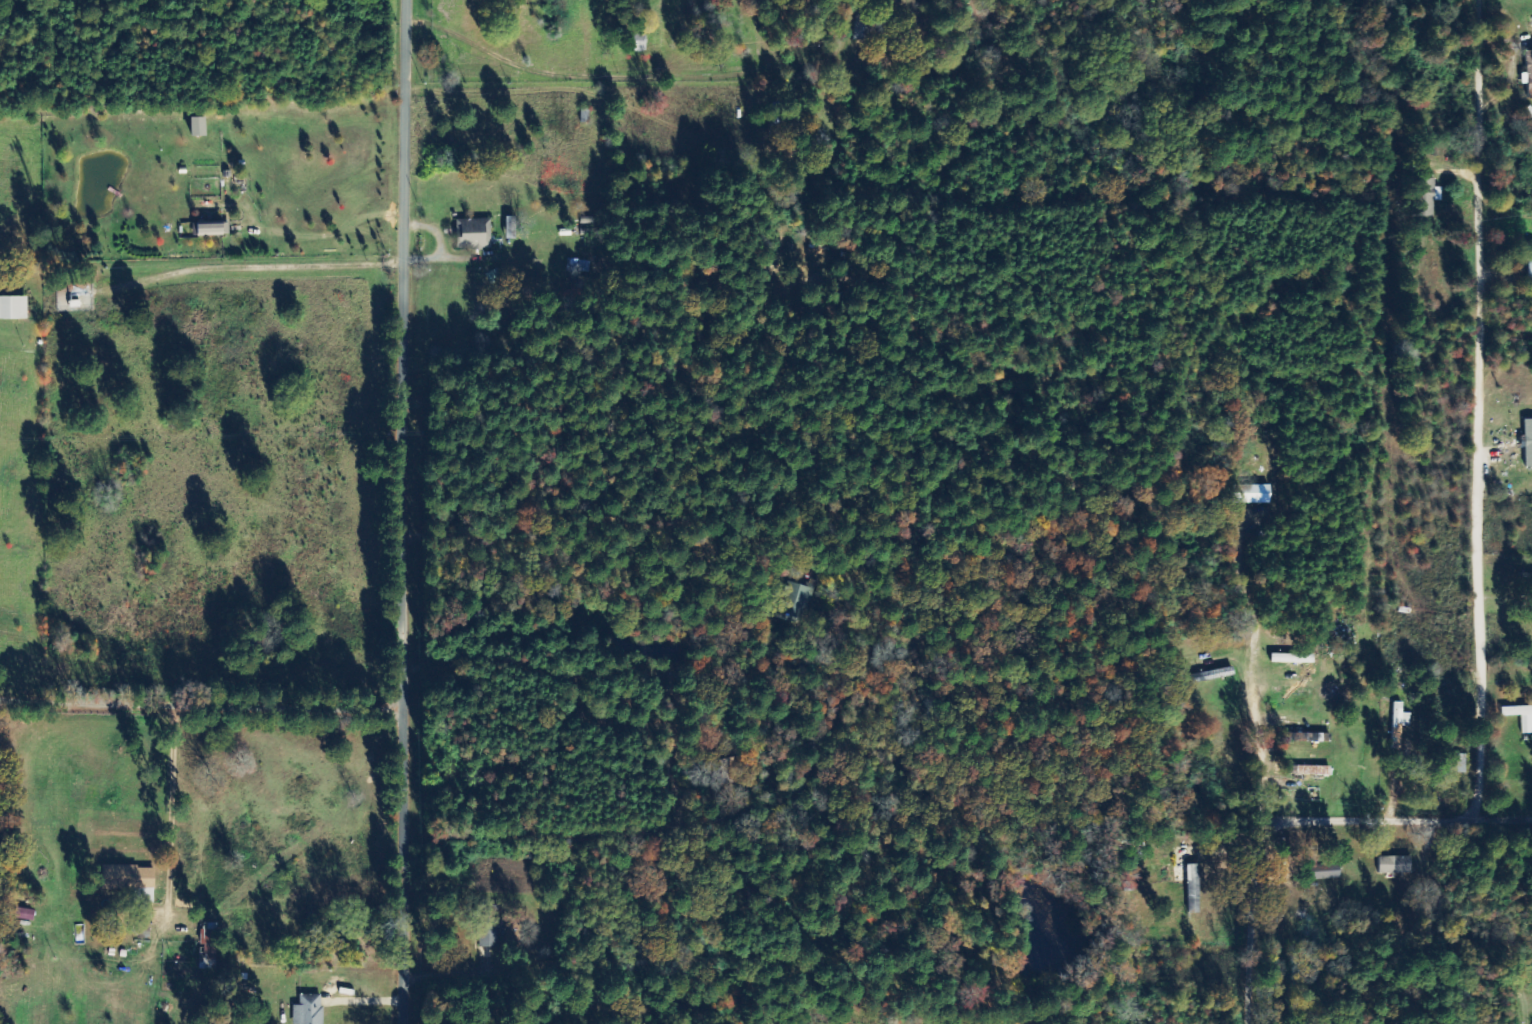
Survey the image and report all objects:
building: (864, 24)
building: (640, 43)
building: (1529, 73)
building: (199, 127)
building: (1430, 197)
building: (213, 230)
building: (474, 234)
road: (608, 262)
building: (1530, 265)
building: (579, 266)
building: (13, 308)
road: (1488, 423)
building: (1529, 442)
building: (1252, 494)
road: (417, 512)
road: (602, 579)
building: (799, 600)
road: (208, 706)
building: (1399, 725)
building: (1527, 726)
building: (1309, 738)
road: (1270, 746)
building: (1460, 764)
building: (1312, 771)
road: (1306, 821)
building: (1395, 865)
building: (1326, 873)
building: (129, 877)
building: (1191, 885)
building: (493, 927)
building: (209, 943)
building: (309, 1010)

